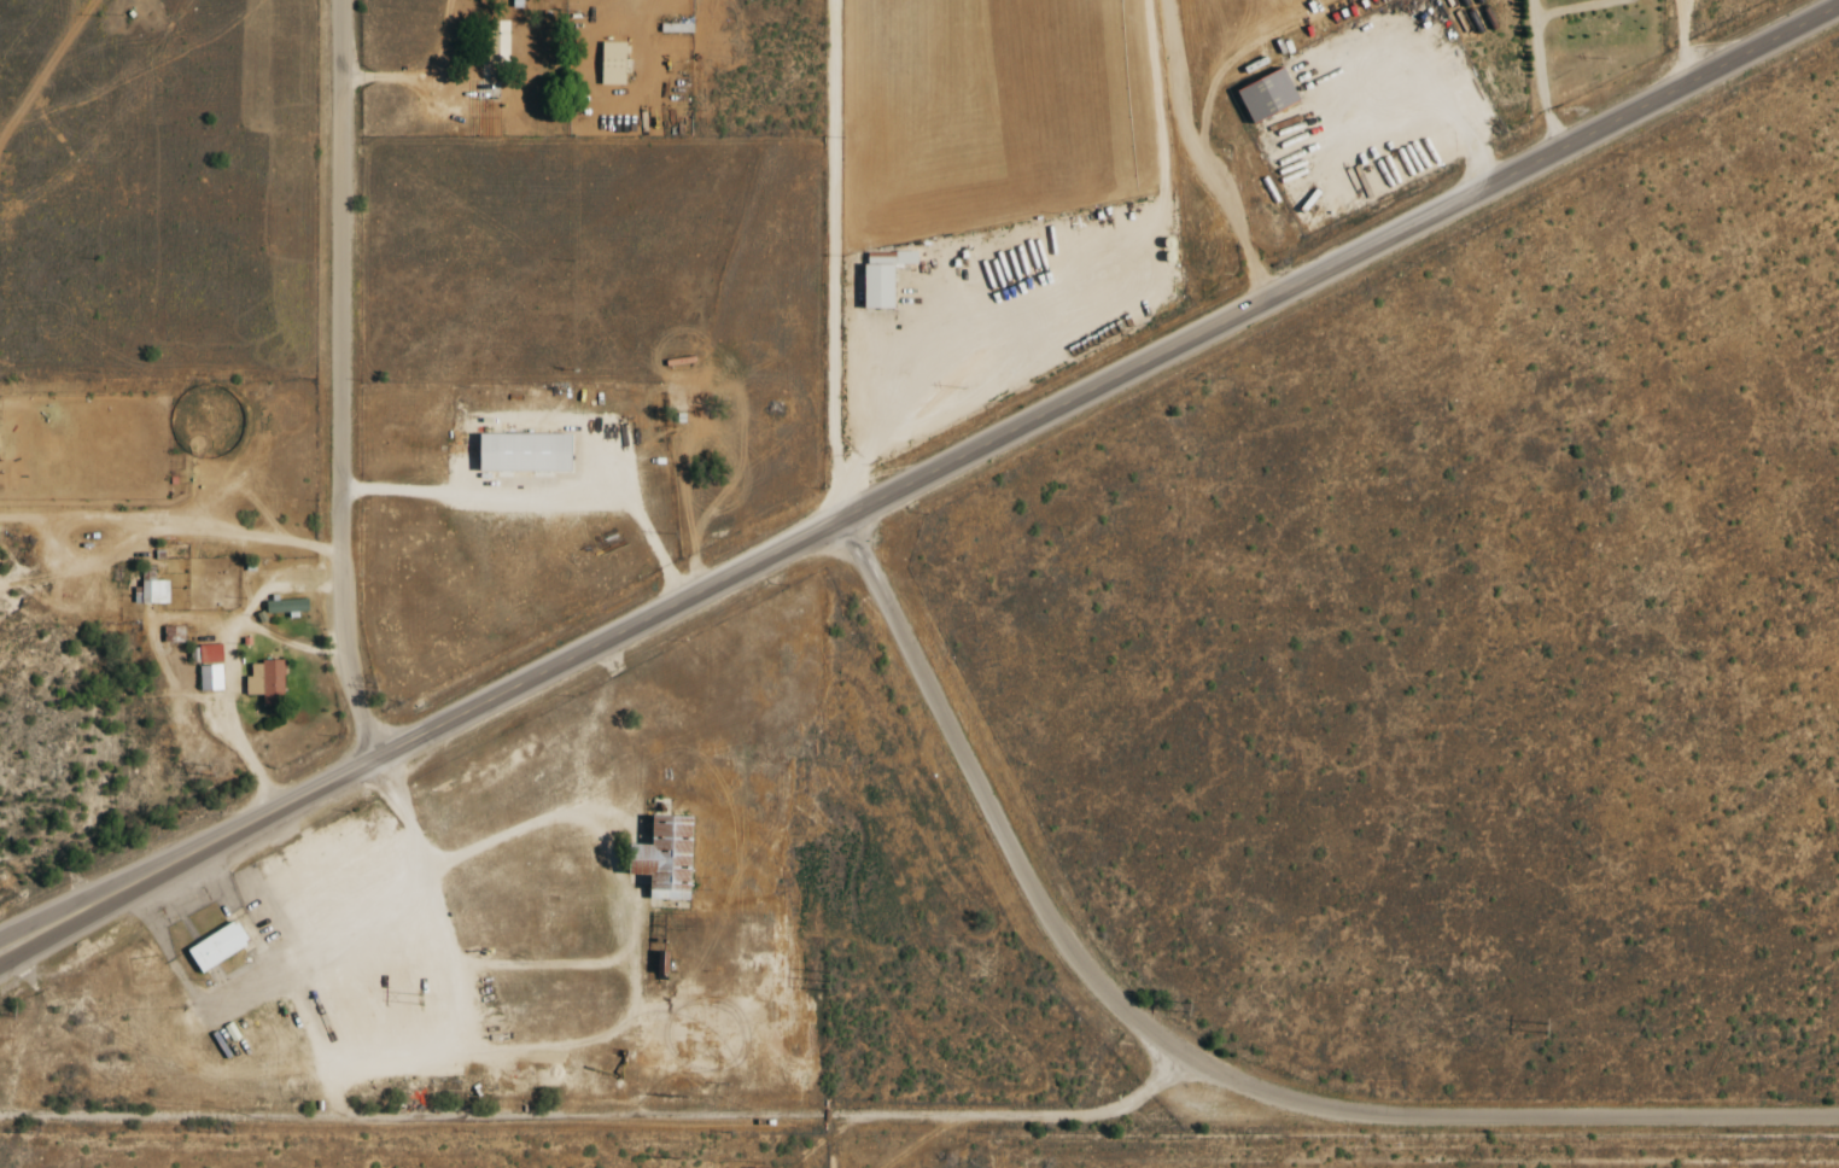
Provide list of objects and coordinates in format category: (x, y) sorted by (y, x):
building: (676, 28)
building: (496, 46)
building: (612, 64)
building: (1266, 95)
road: (837, 258)
building: (881, 258)
building: (877, 286)
road: (345, 380)
road: (1012, 430)
building: (521, 451)
building: (152, 592)
building: (285, 606)
building: (173, 633)
building: (209, 654)
building: (210, 677)
building: (265, 682)
power tower: (214, 770)
road: (991, 806)
road: (92, 894)
road: (95, 913)
building: (216, 946)
power tower: (825, 980)
power tower: (420, 999)
power tower: (1186, 1006)
power tower: (13, 1010)
power tower: (1546, 1027)
road: (934, 1115)

